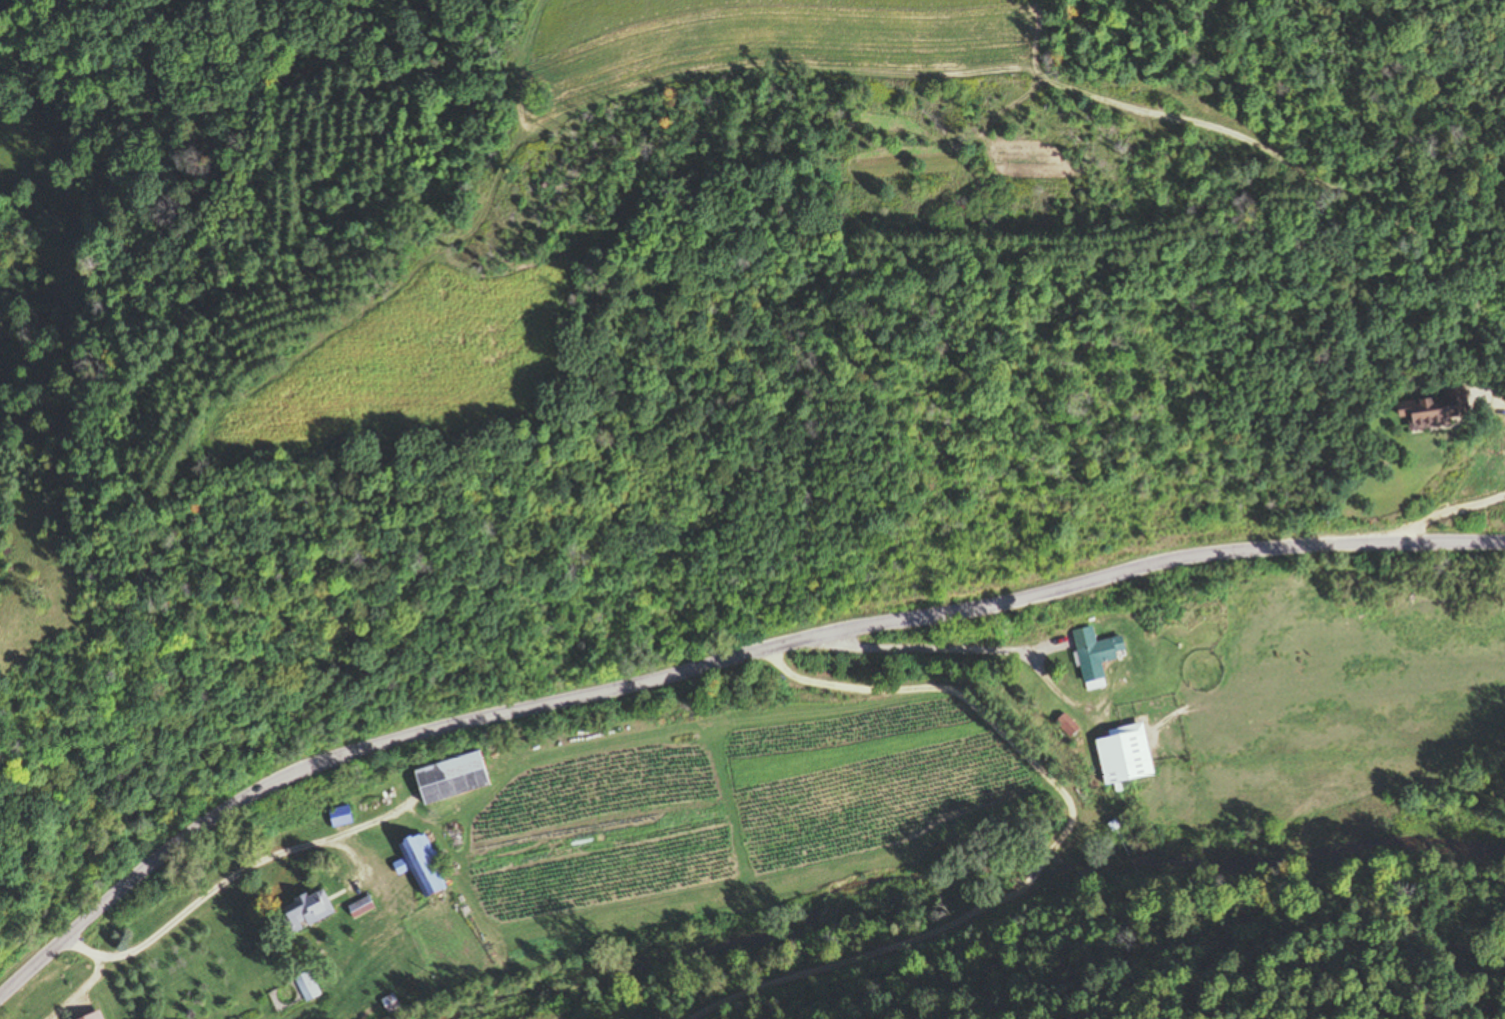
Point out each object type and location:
road: (1498, 399)
building: (1436, 409)
road: (1438, 509)
building: (1209, 611)
building: (1095, 653)
road: (710, 667)
building: (1123, 755)
building: (451, 778)
building: (339, 818)
road: (1049, 846)
building: (421, 866)
road: (226, 871)
building: (359, 908)
building: (306, 911)
building: (306, 987)
building: (93, 1016)

